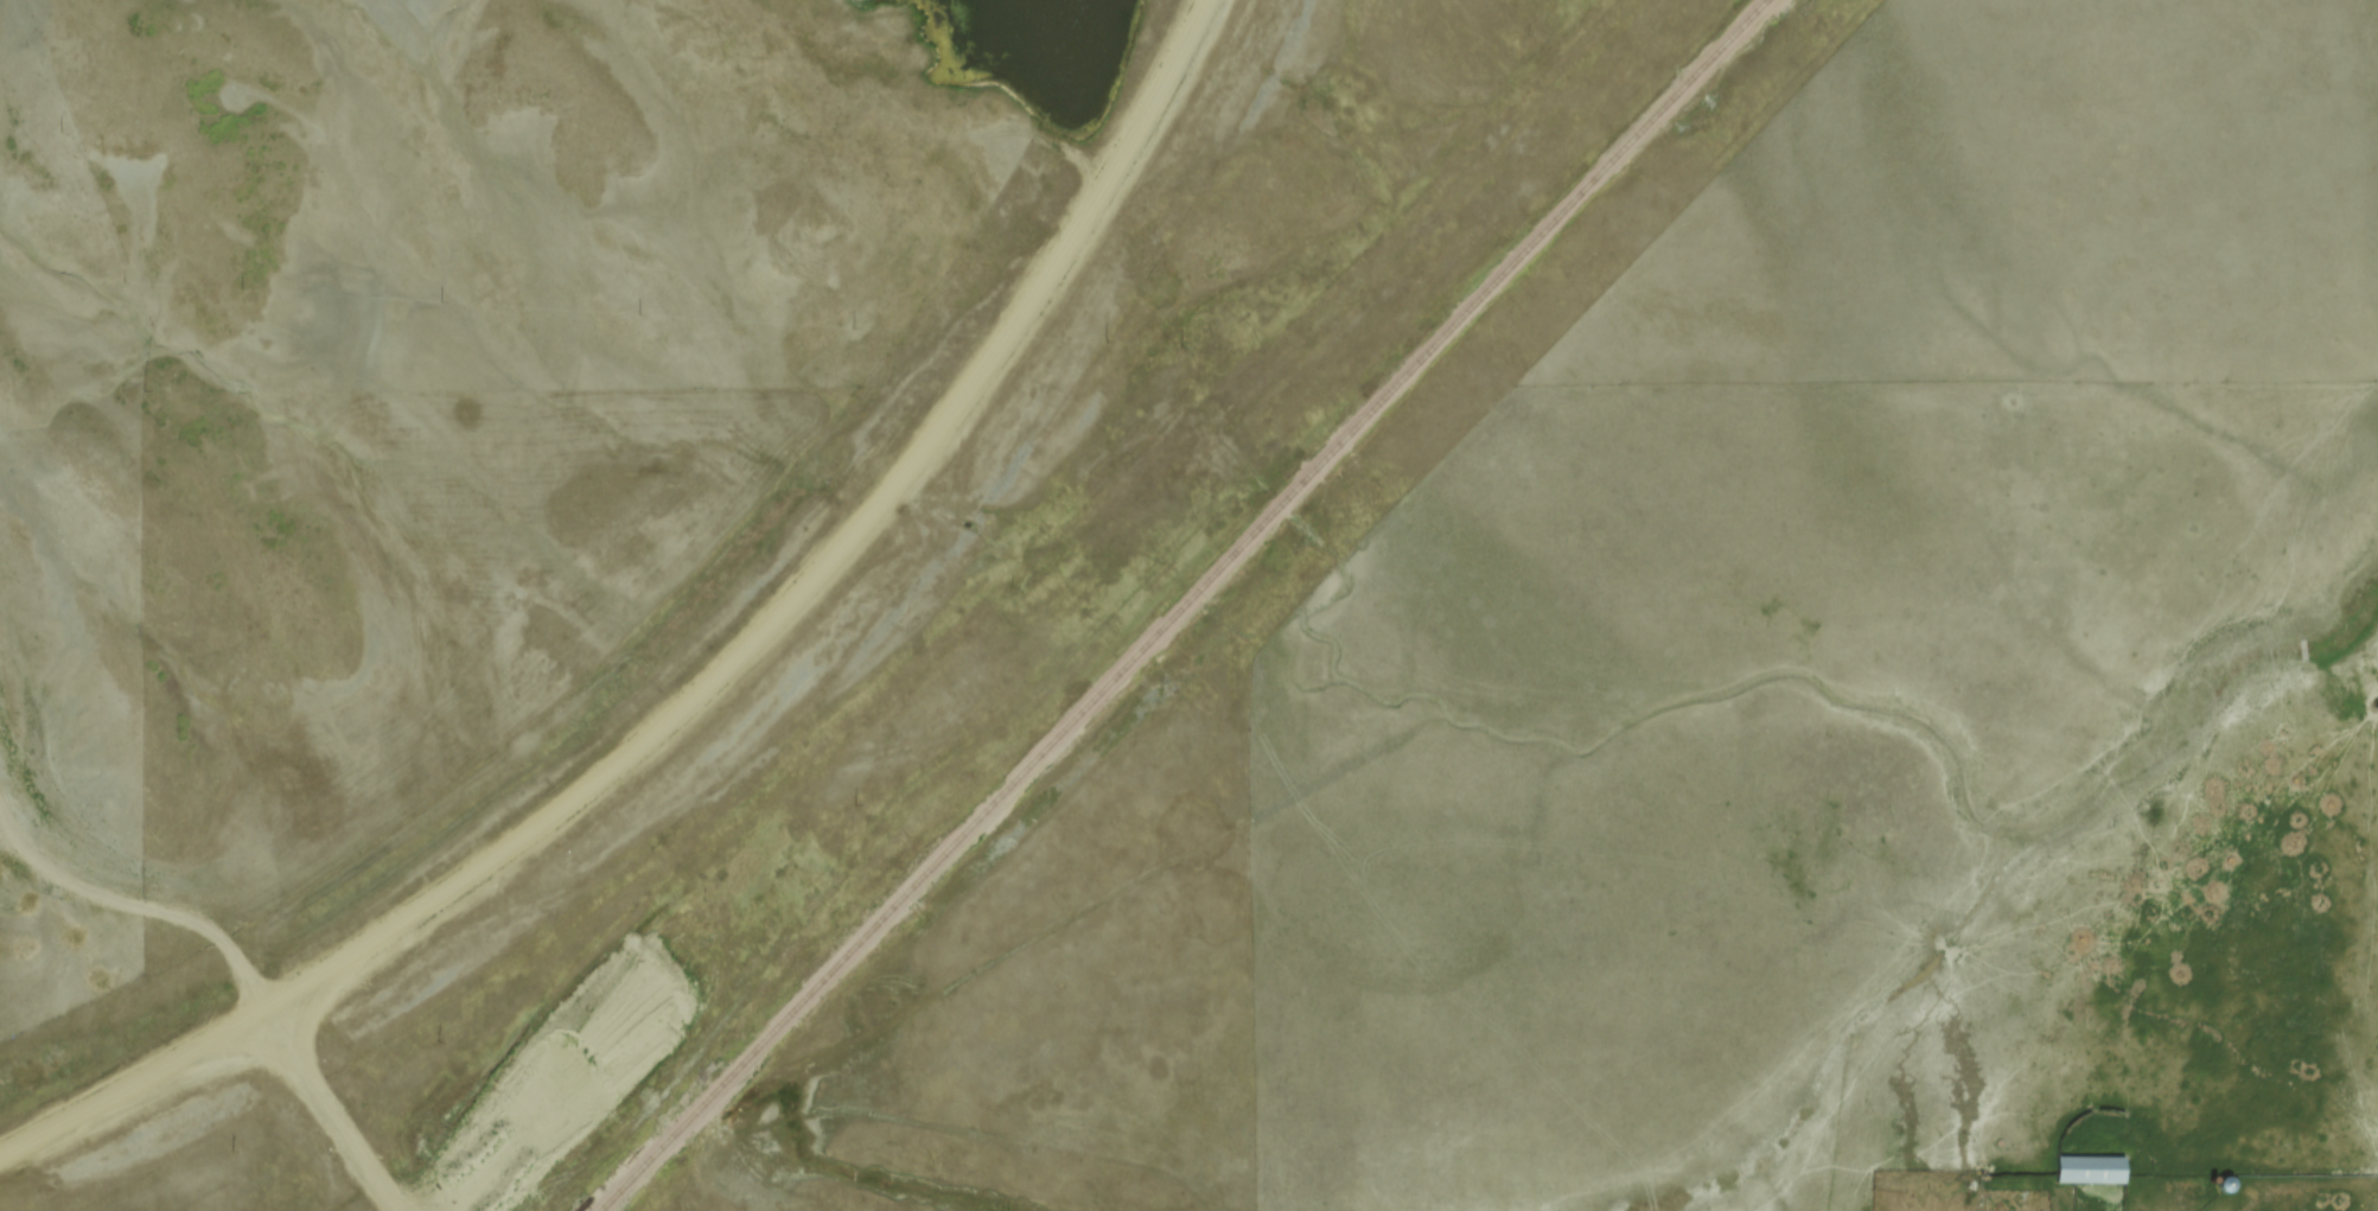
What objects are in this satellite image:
railway: (1178, 606)
road: (702, 683)
road: (329, 1111)
building: (2086, 1168)

